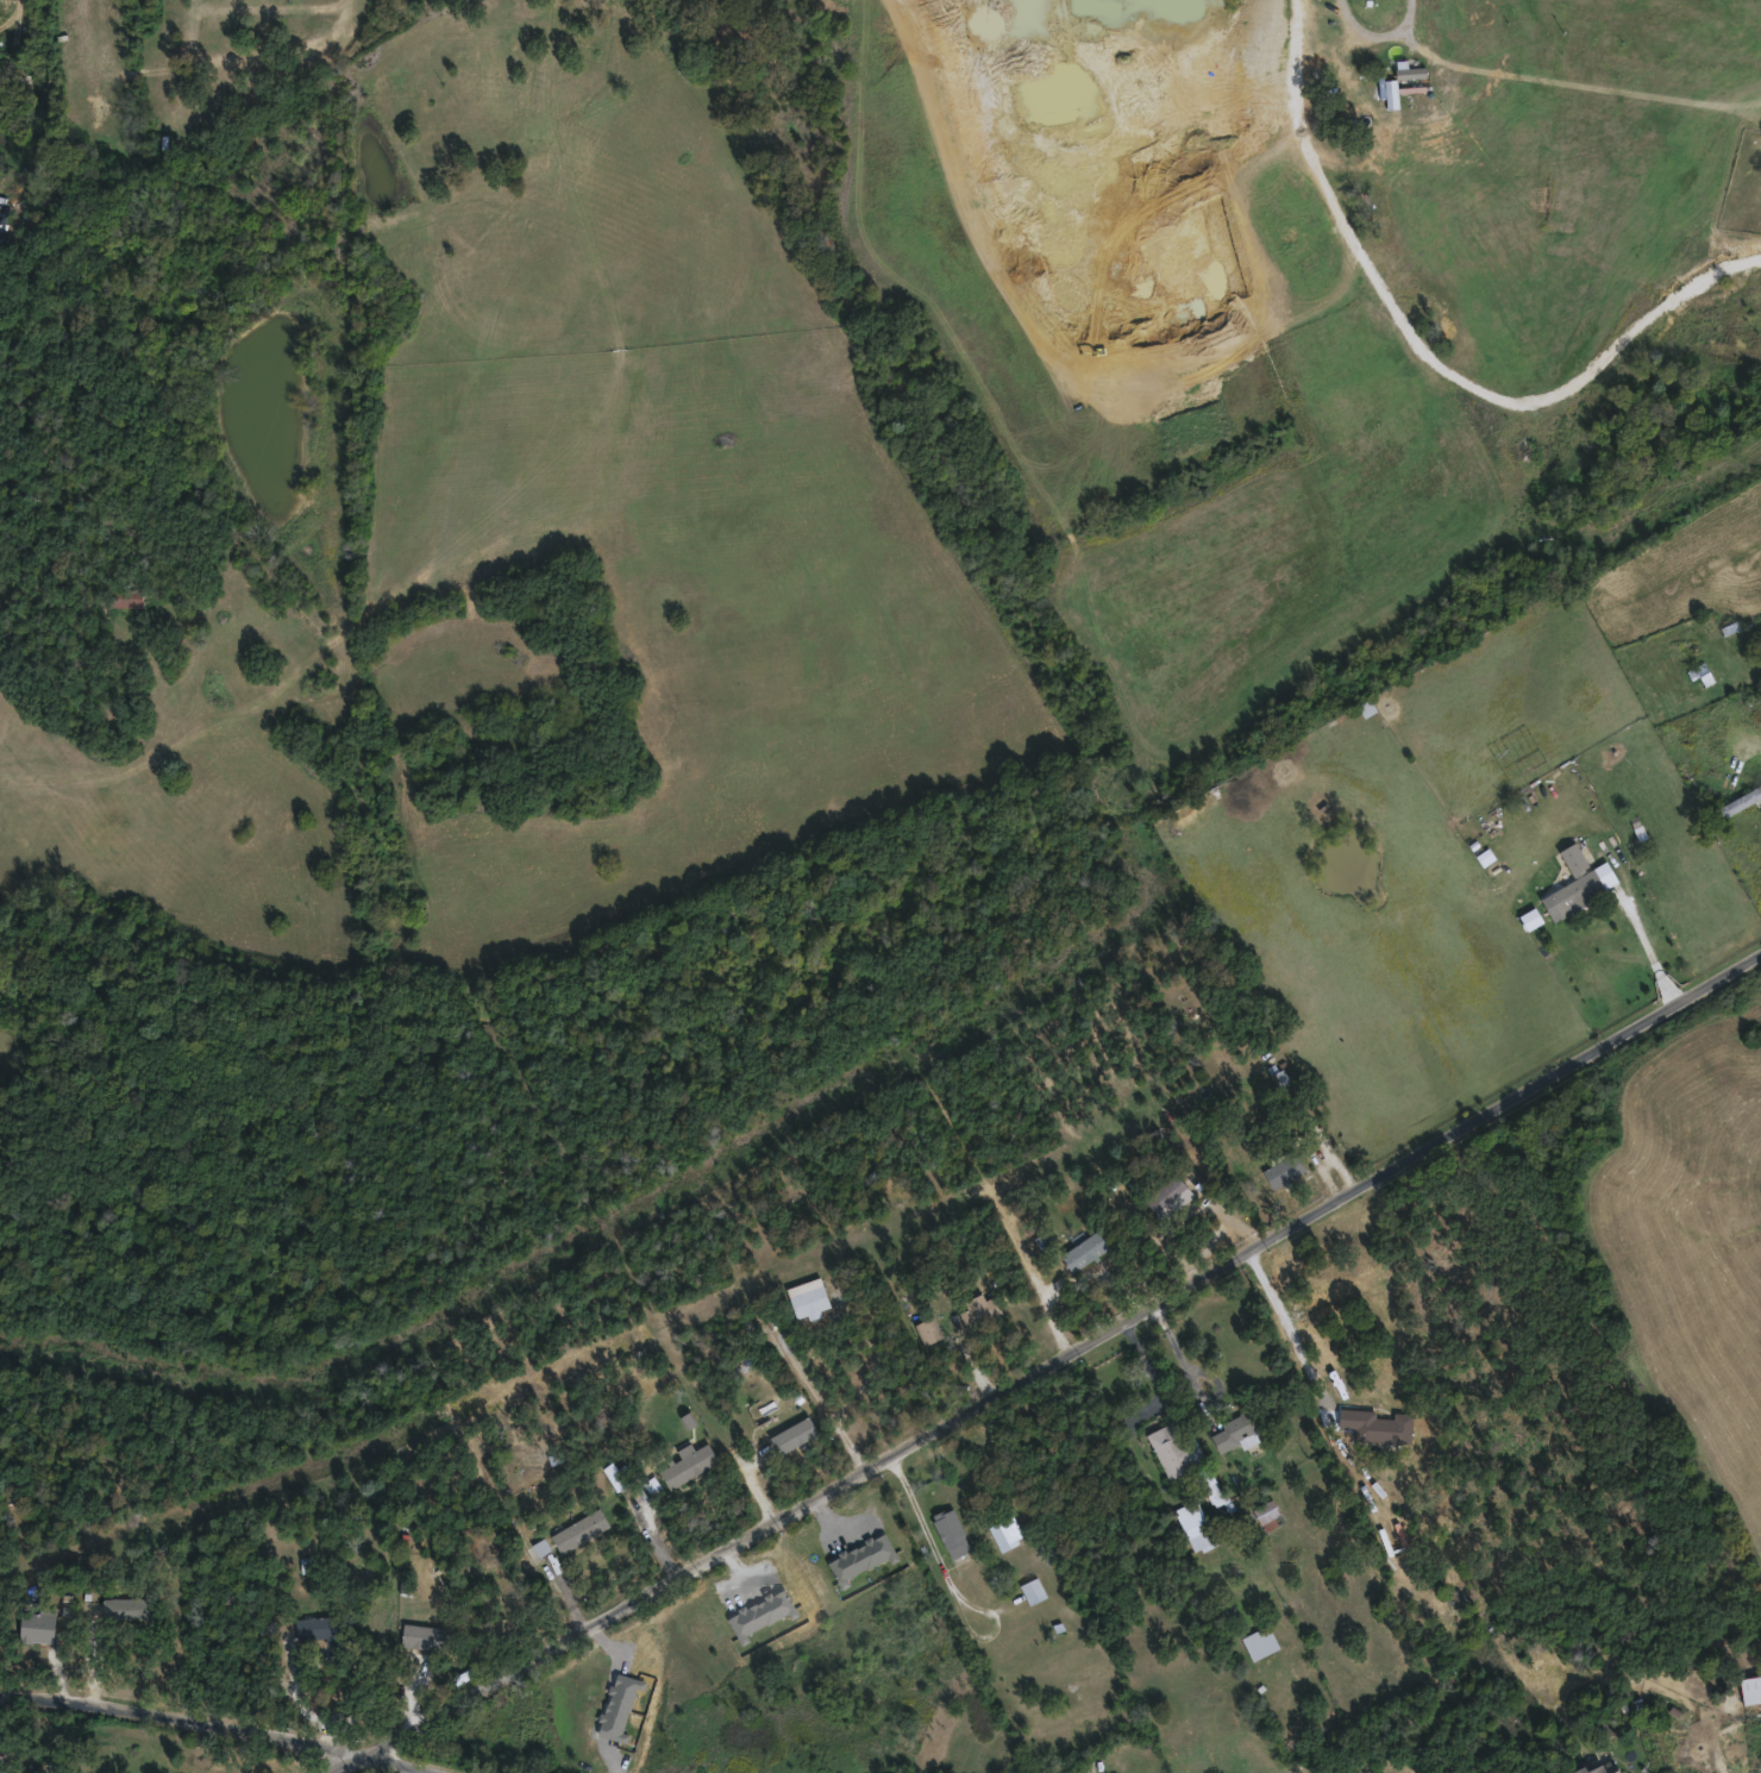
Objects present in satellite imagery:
road: (1381, 35)
road: (17, 39)
building: (539, 145)
road: (1428, 357)
building: (125, 596)
building: (1703, 671)
road: (1744, 756)
building: (1741, 800)
building: (1578, 881)
road: (1656, 951)
building: (1285, 1170)
building: (1173, 1189)
building: (1085, 1249)
road: (1035, 1282)
building: (808, 1297)
building: (982, 1312)
building: (928, 1329)
road: (1293, 1330)
road: (1051, 1366)
road: (826, 1402)
building: (1385, 1426)
building: (1241, 1428)
building: (782, 1433)
building: (1176, 1447)
road: (645, 1462)
building: (689, 1462)
building: (1196, 1525)
building: (579, 1529)
building: (952, 1531)
building: (1005, 1531)
road: (952, 1581)
building: (1033, 1589)
building: (131, 1608)
building: (38, 1627)
building: (321, 1628)
building: (422, 1636)
building: (1260, 1641)
building: (1750, 1689)
road: (220, 1725)
building: (1602, 1767)

